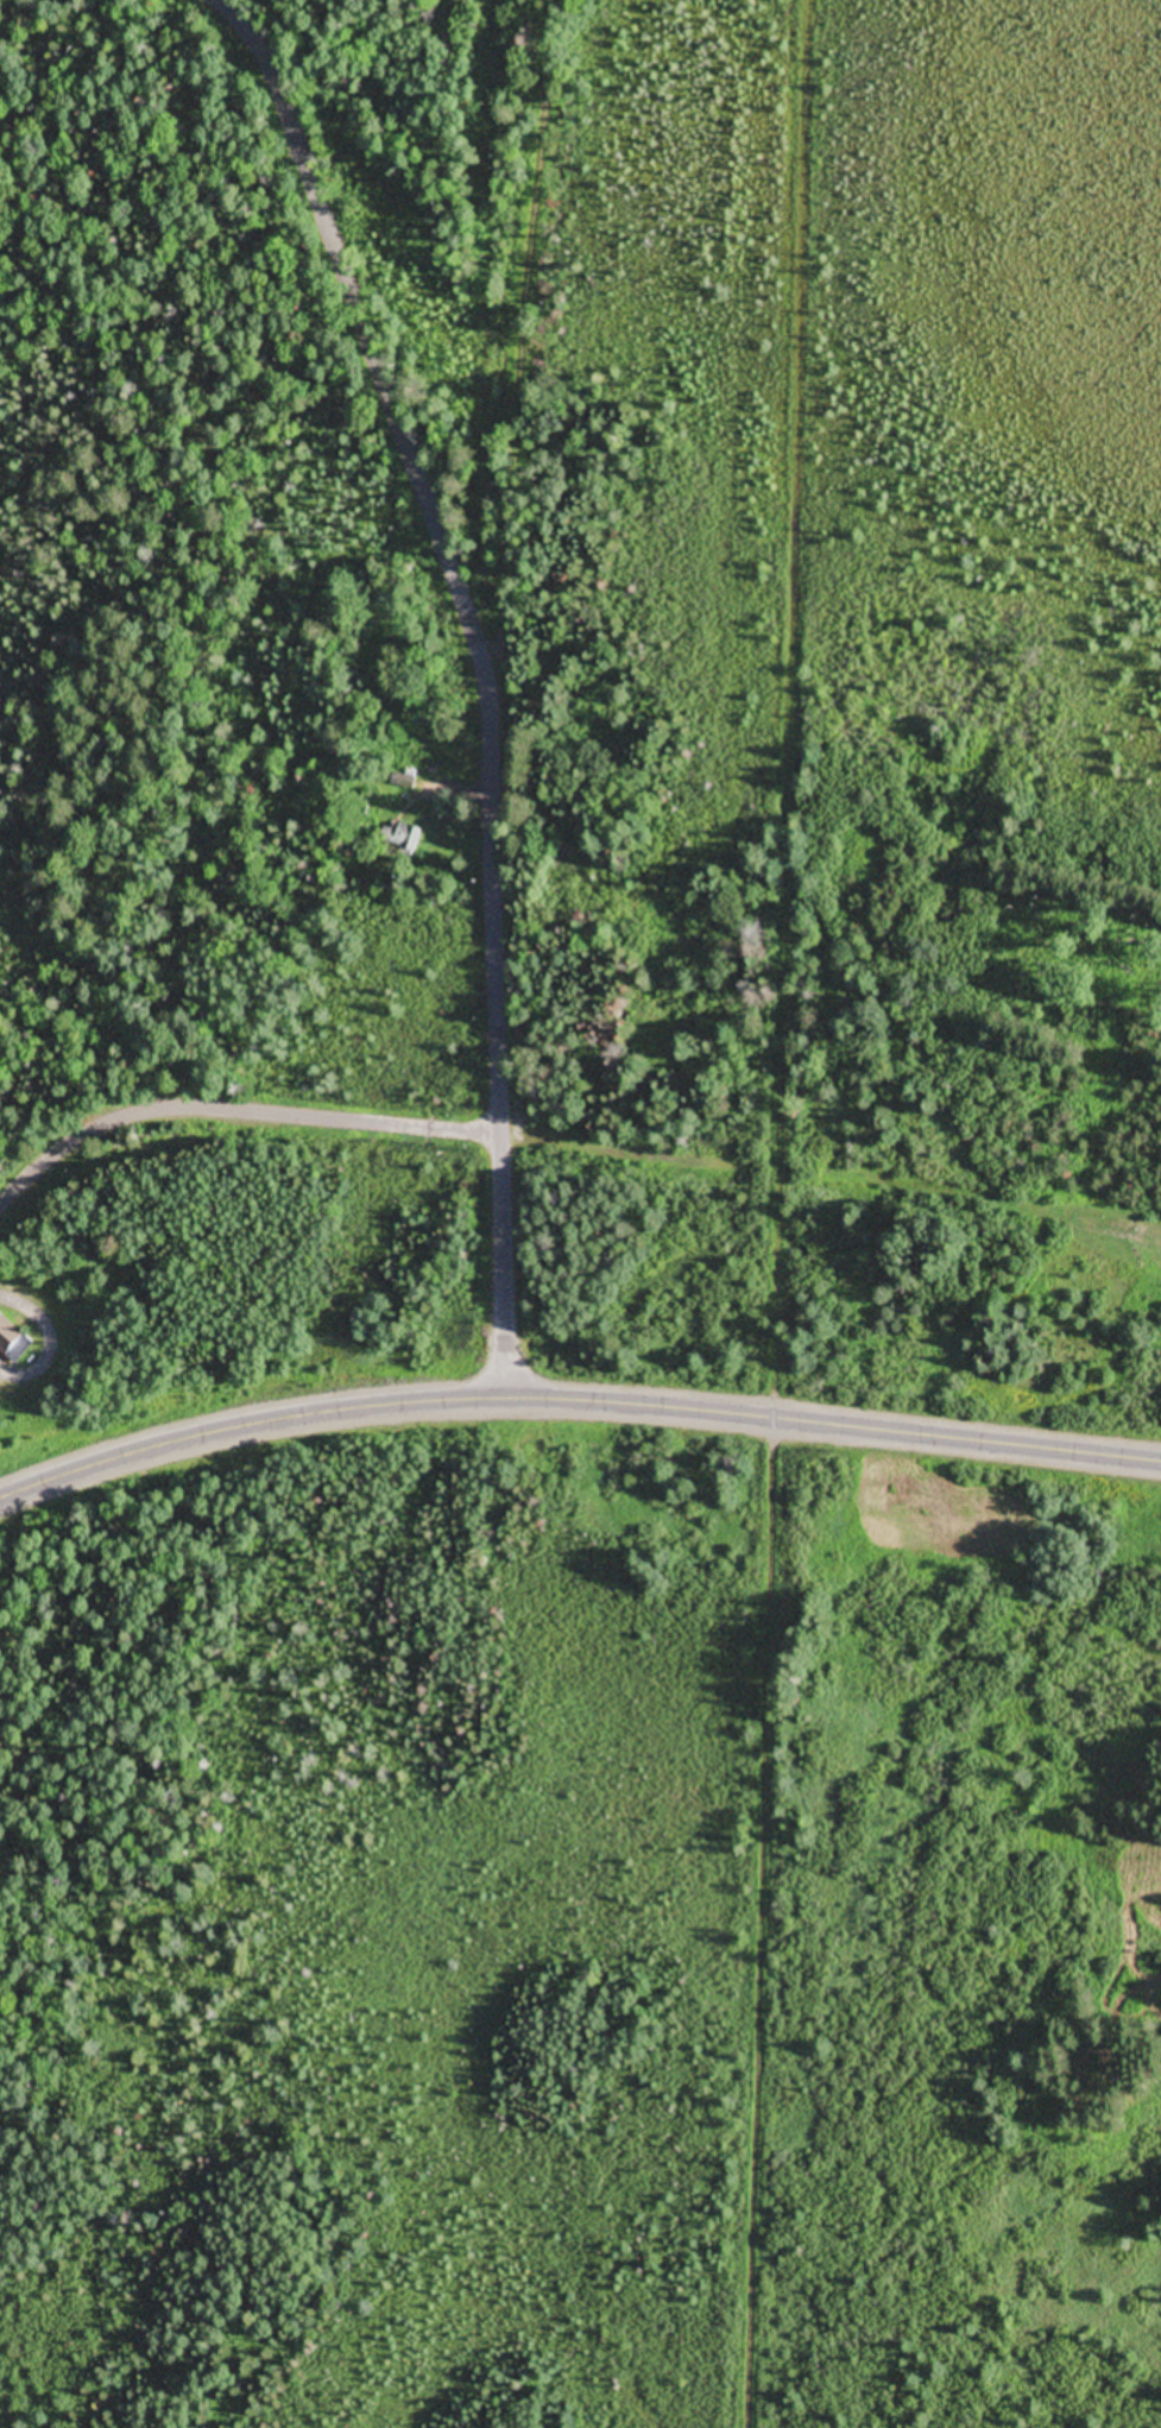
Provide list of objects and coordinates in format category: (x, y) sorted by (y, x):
building: (452, 44)
road: (405, 64)
road: (366, 335)
road: (523, 341)
building: (402, 837)
road: (496, 1041)
road: (233, 1106)
building: (1117, 1234)
building: (14, 1342)
road: (575, 1402)

